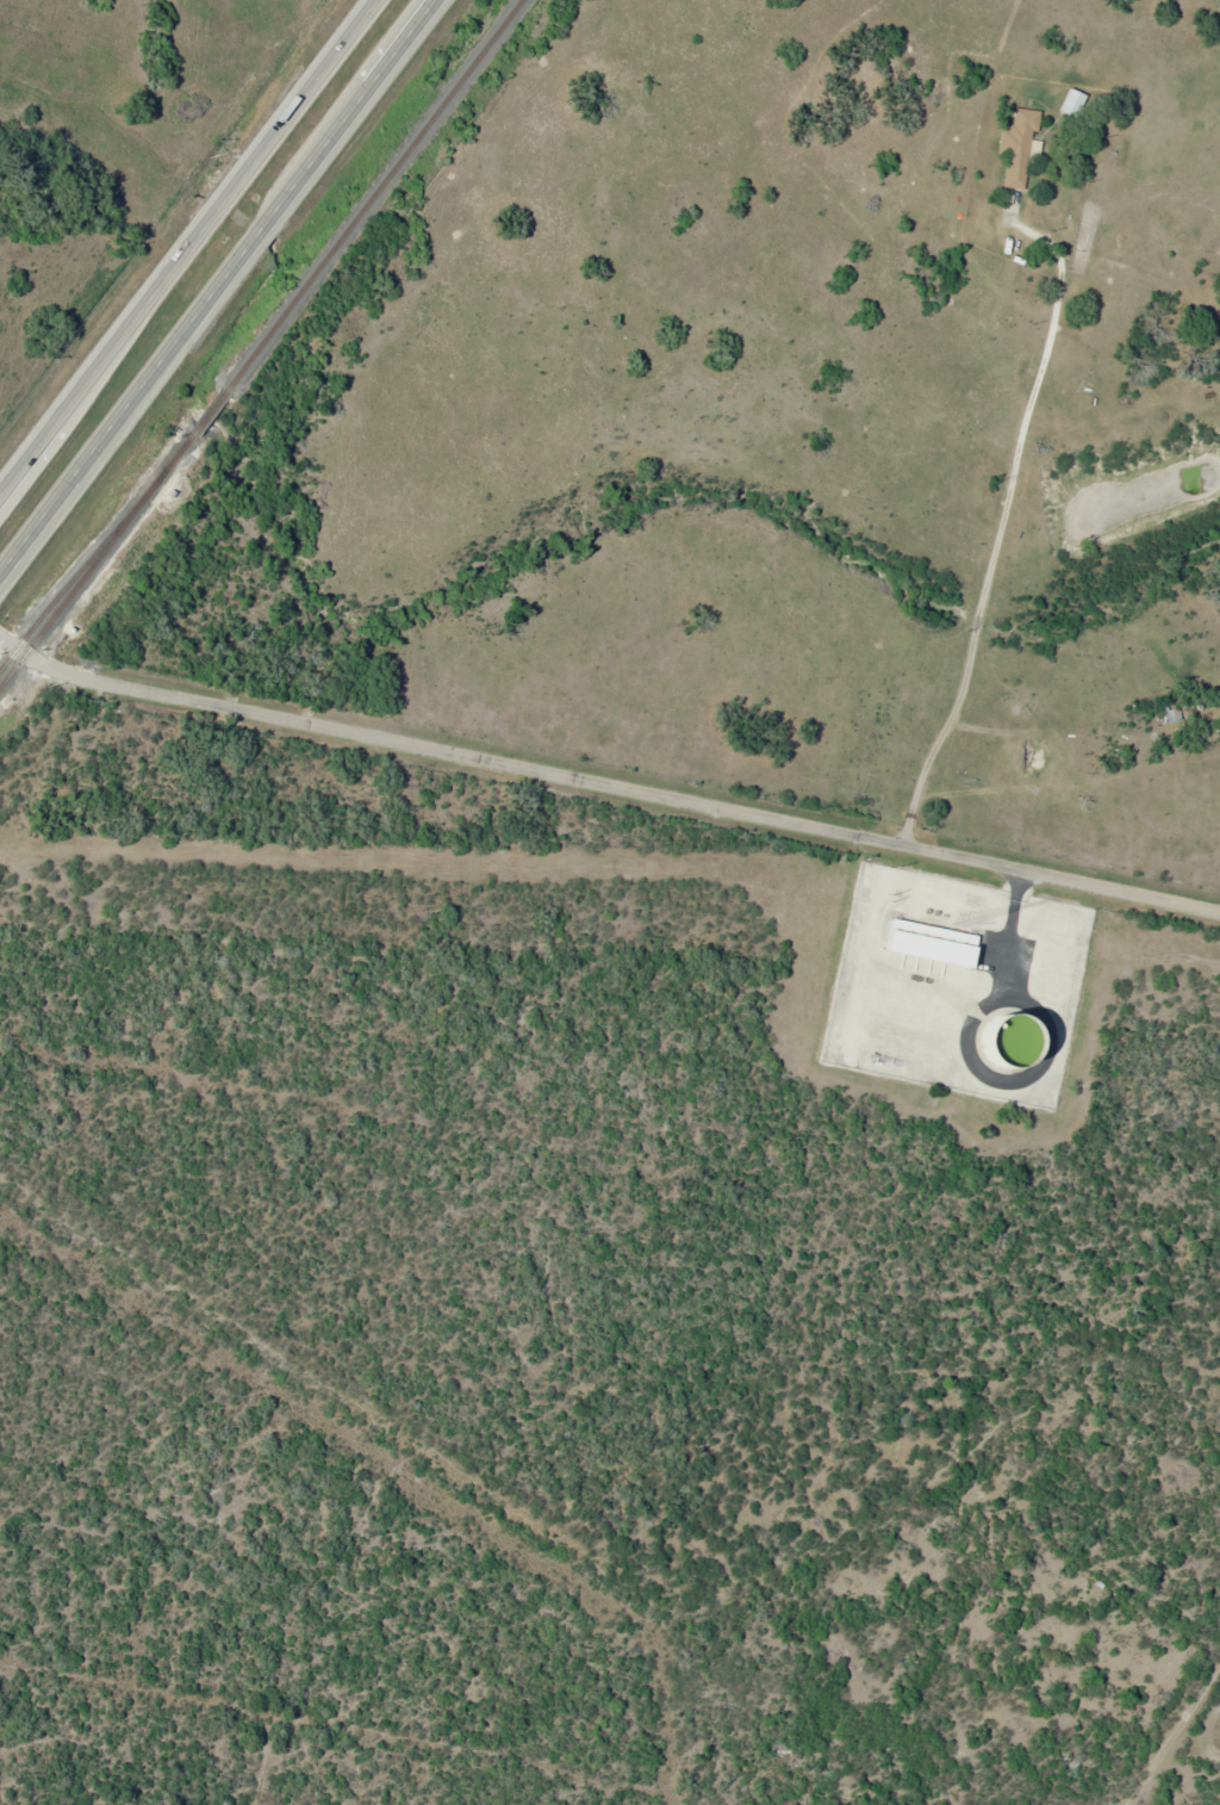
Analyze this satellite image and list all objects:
building: (1064, 104)
building: (1008, 149)
road: (187, 246)
road: (225, 297)
railway: (262, 345)
road: (995, 551)
railway: (71, 581)
building: (1166, 714)
road: (604, 783)
building: (921, 942)
building: (997, 1038)
road: (1188, 1754)

